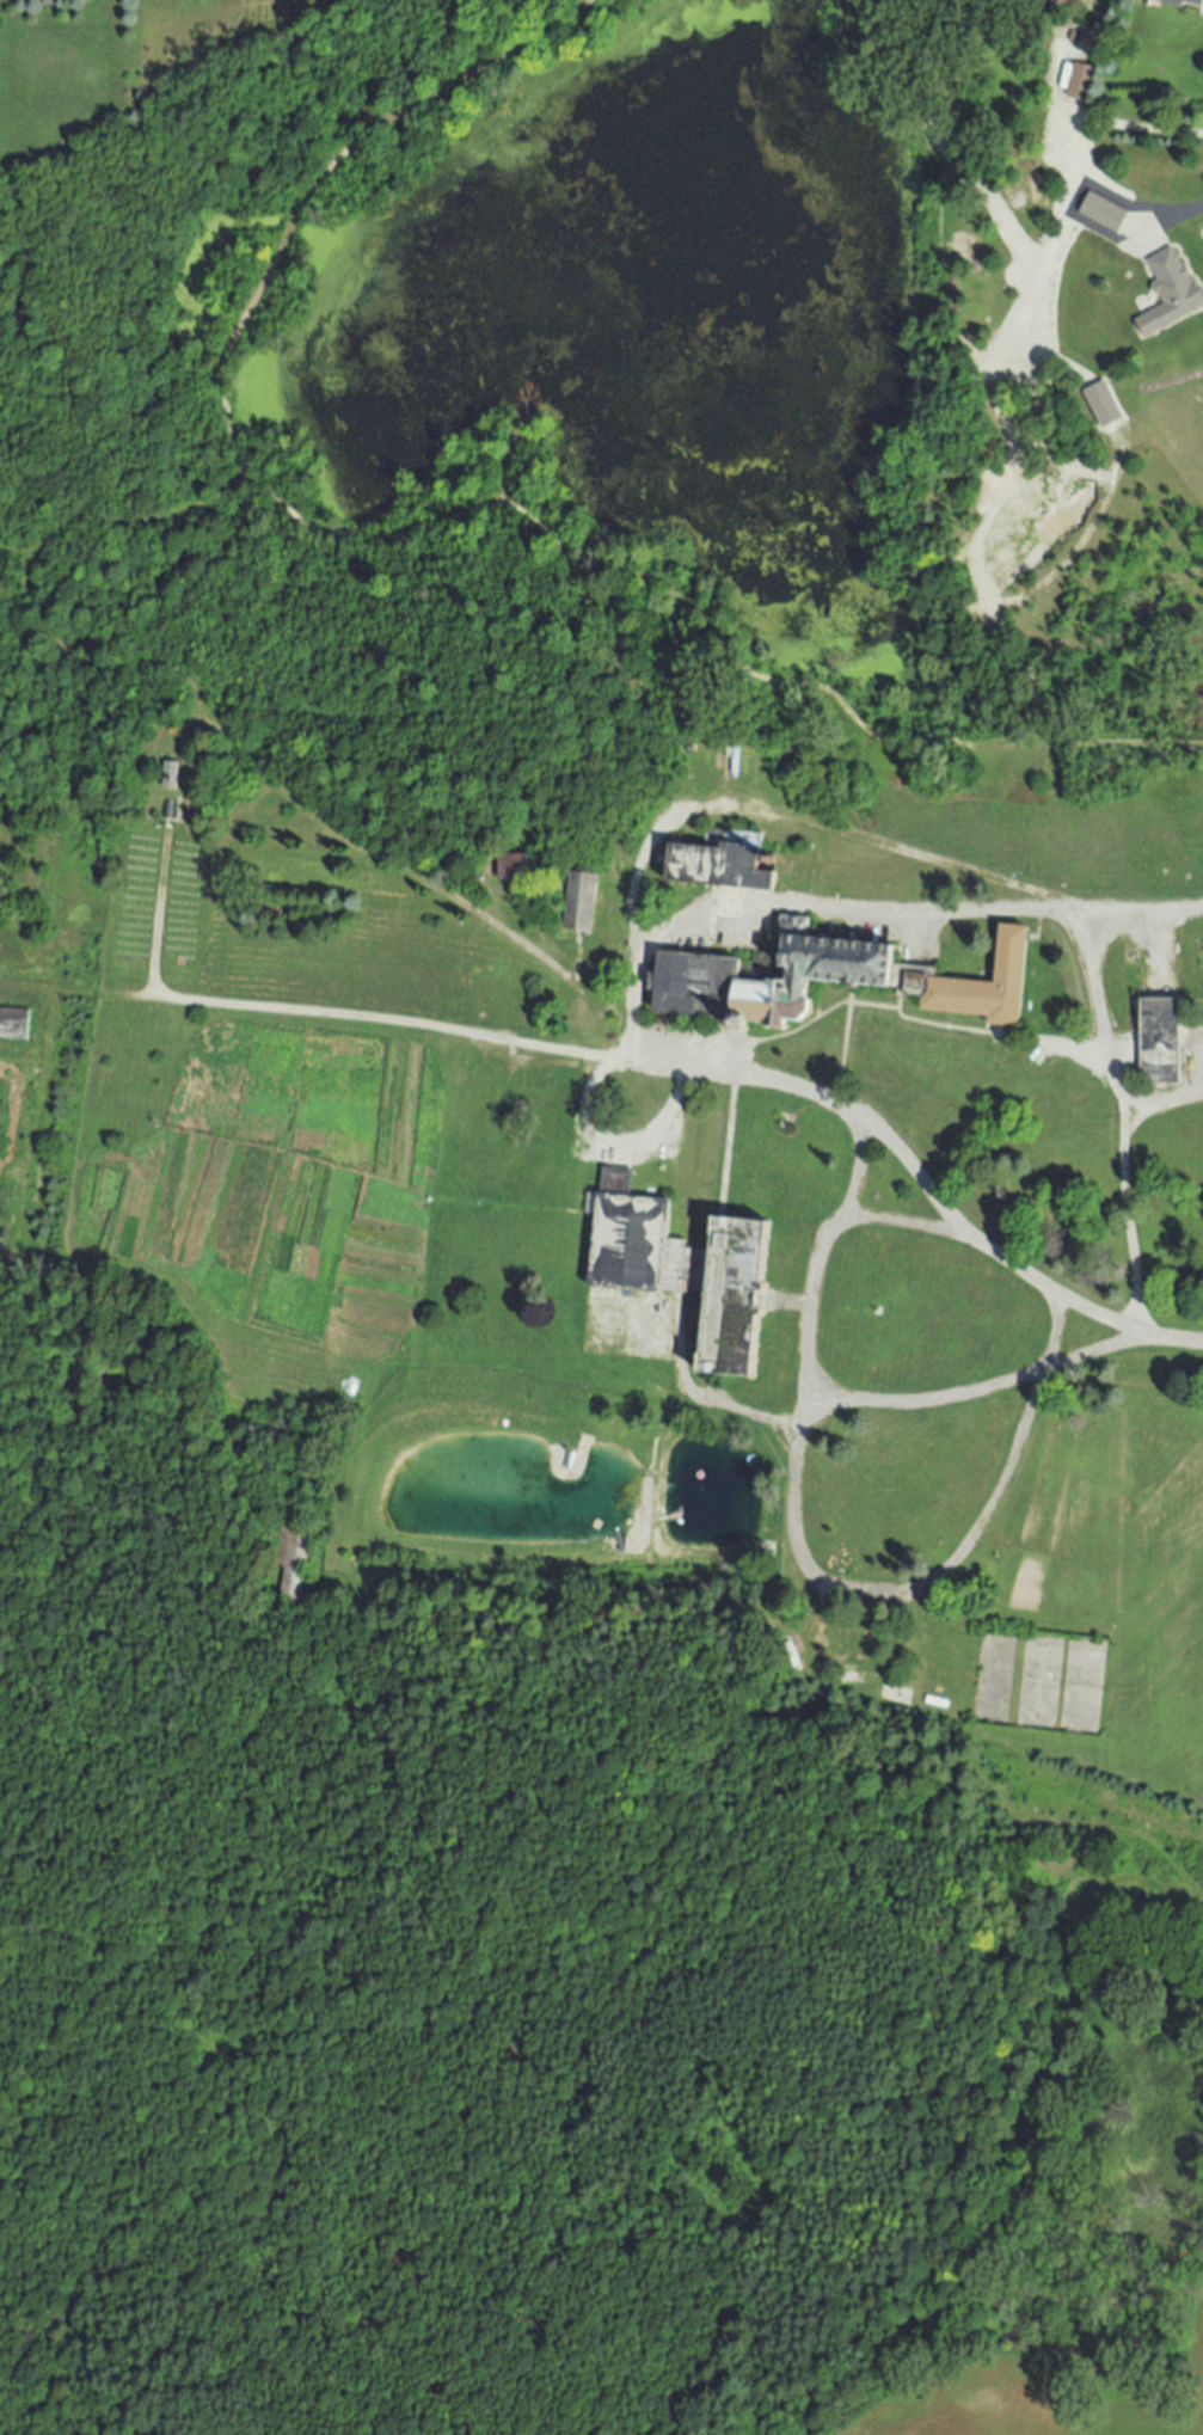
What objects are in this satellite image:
building: (1066, 0)
building: (1176, 2)
building: (1076, 84)
building: (1078, 202)
building: (1100, 214)
road: (1183, 215)
building: (1167, 294)
building: (1098, 406)
building: (162, 778)
road: (753, 816)
building: (510, 869)
building: (714, 869)
building: (579, 903)
road: (916, 910)
building: (835, 963)
building: (691, 992)
building: (982, 994)
building: (11, 1025)
building: (1160, 1045)
road: (1101, 1049)
road: (607, 1053)
road: (1128, 1220)
road: (904, 1223)
building: (630, 1247)
building: (729, 1300)
road: (1171, 1339)
road: (974, 1386)
road: (800, 1562)

